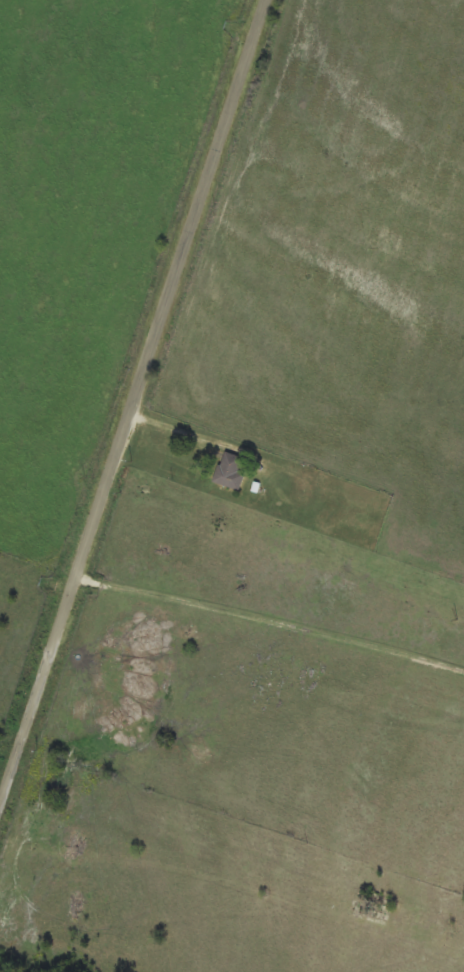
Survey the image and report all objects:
road: (131, 404)
road: (176, 430)
building: (231, 472)

